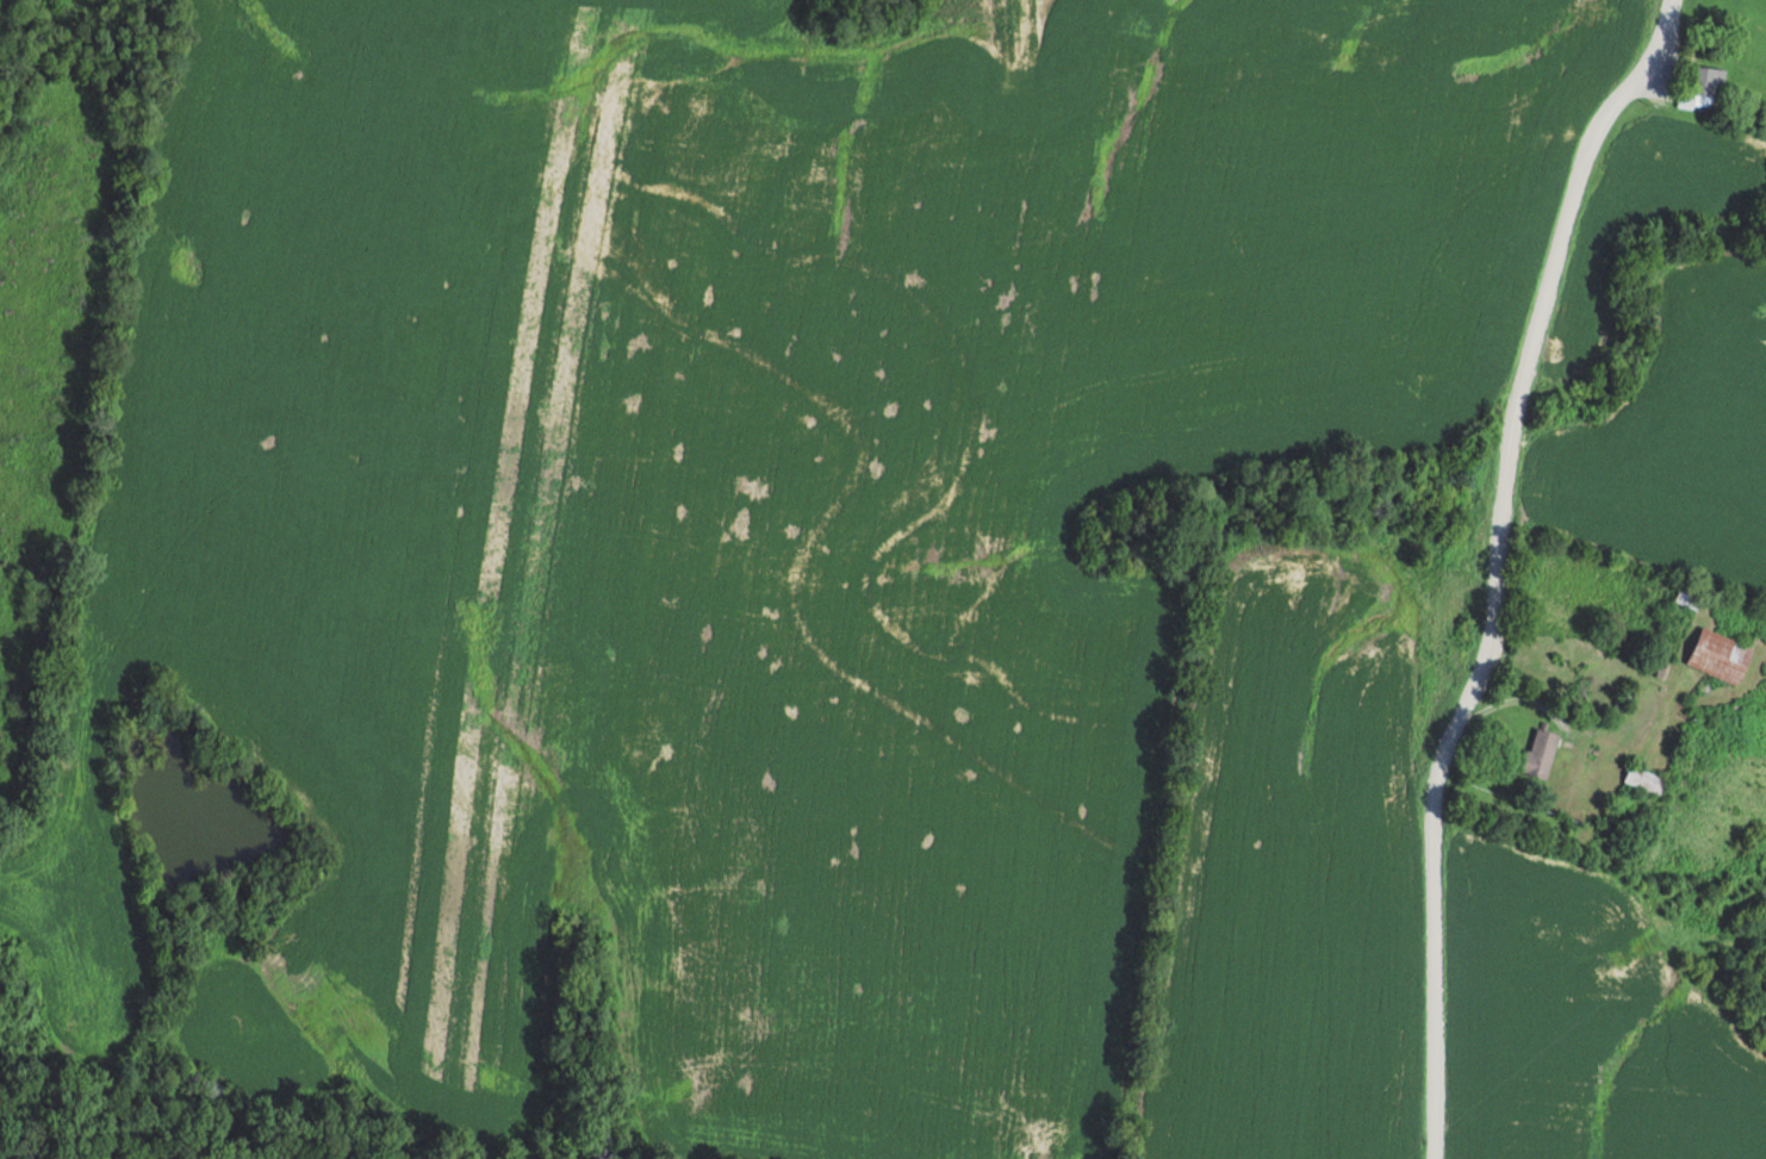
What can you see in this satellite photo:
building: (1703, 87)
road: (1486, 566)
building: (1689, 596)
building: (1720, 654)
building: (1541, 752)
building: (1646, 778)
building: (1588, 835)

